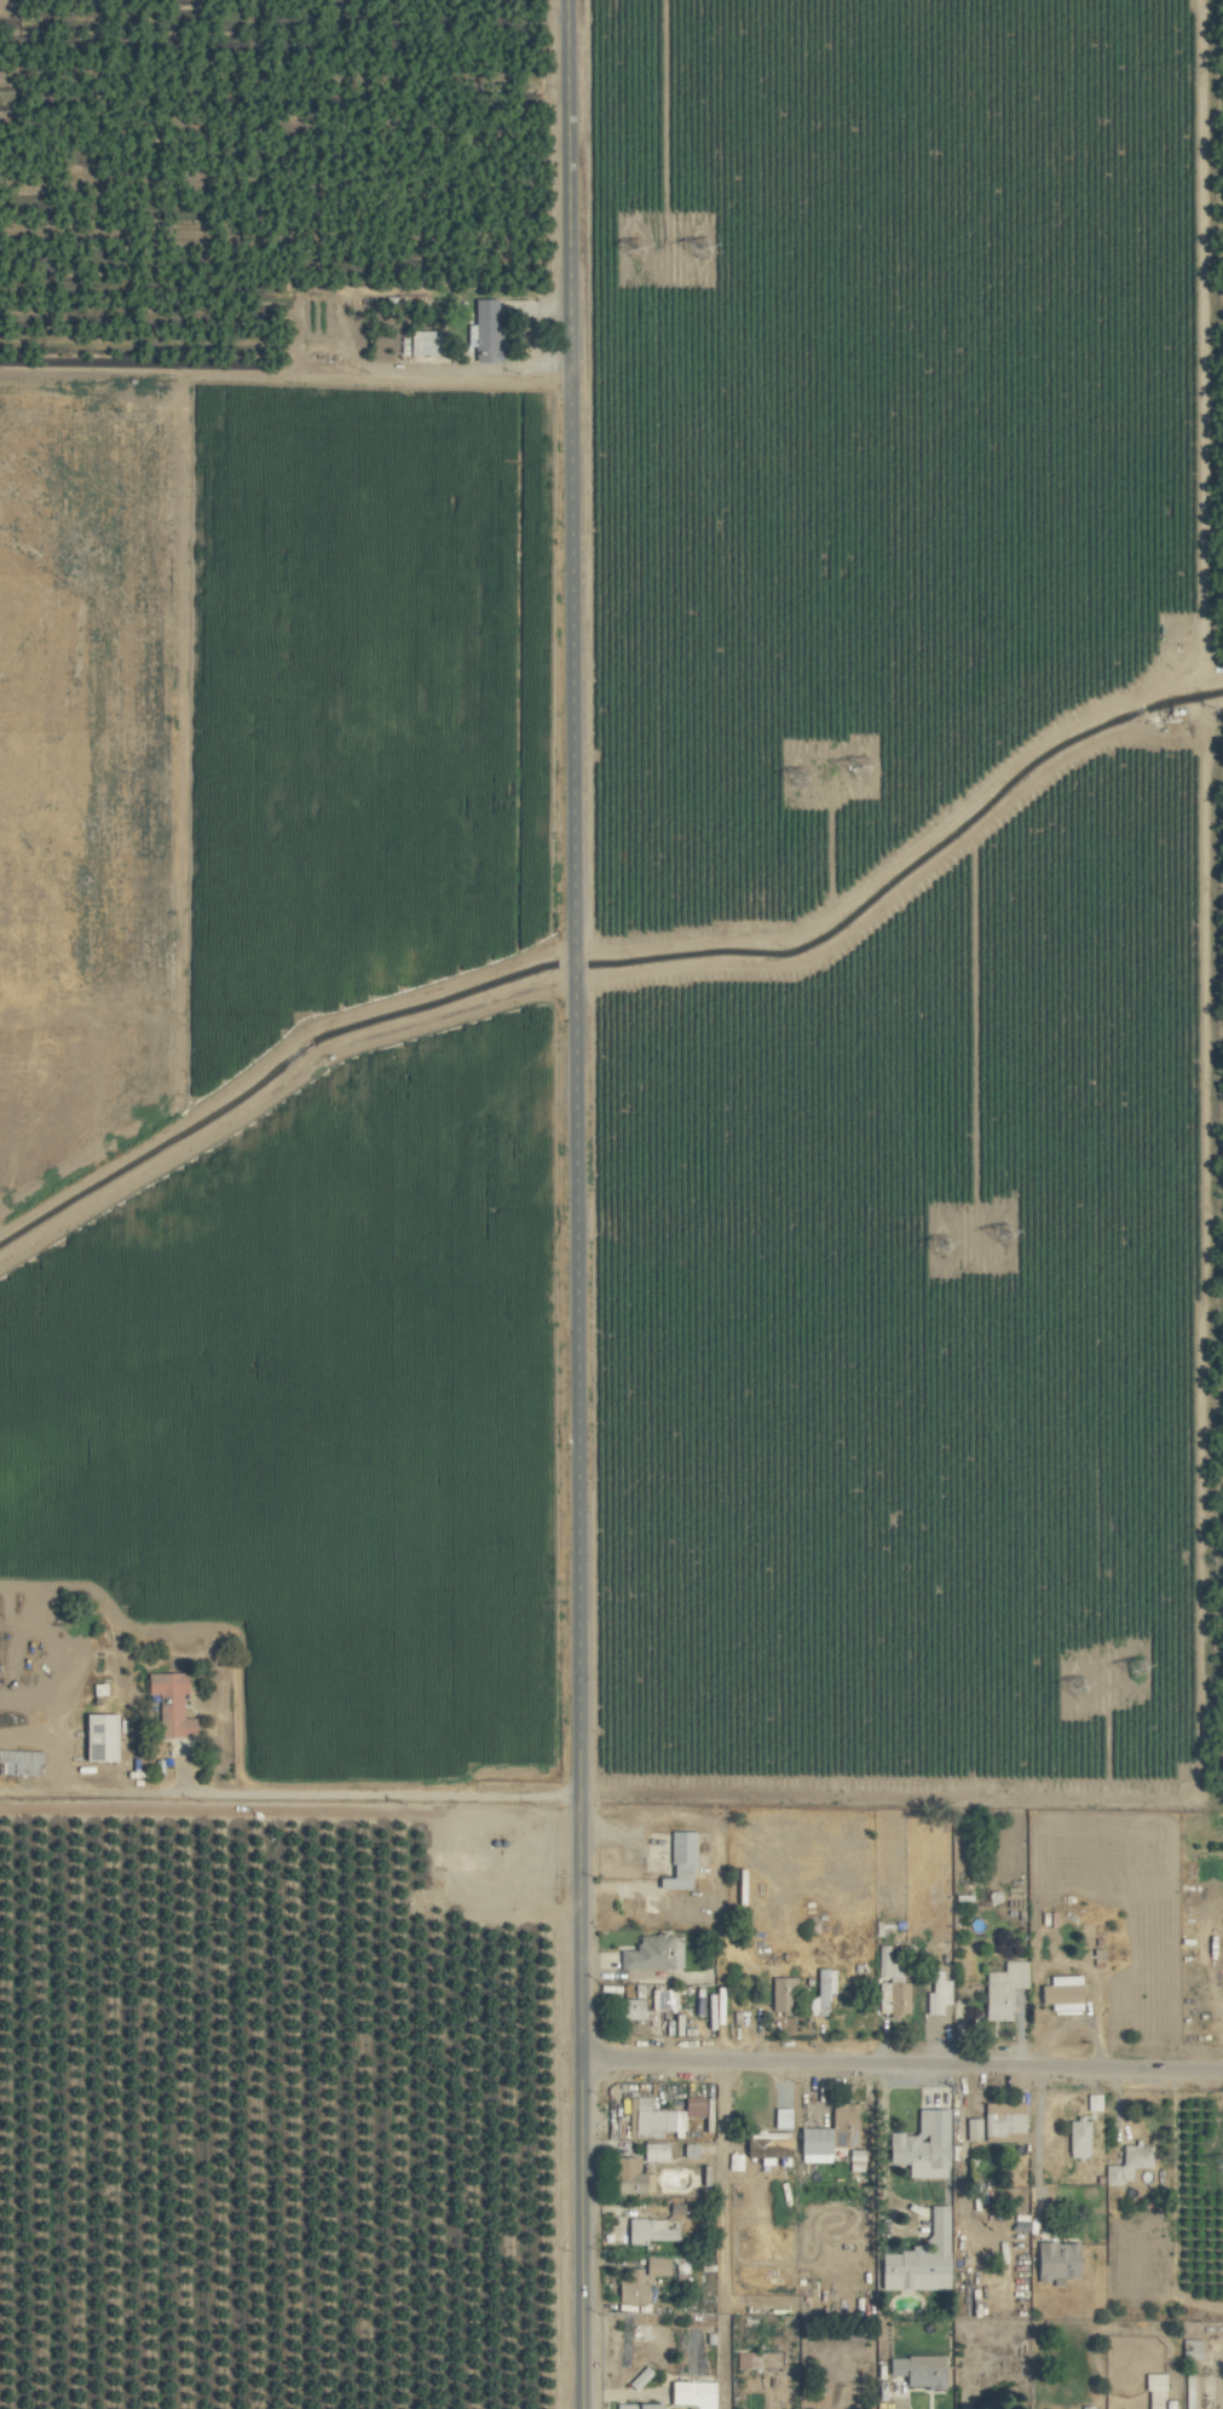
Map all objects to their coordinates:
road: (566, 122)
power tower: (704, 248)
power tower: (640, 252)
road: (341, 324)
building: (490, 330)
building: (423, 344)
power tower: (855, 766)
power tower: (802, 777)
road: (572, 997)
crop: (611, 1204)
power tower: (1005, 1232)
power tower: (952, 1243)
crop: (281, 1395)
power tower: (1141, 1669)
power tower: (1084, 1687)
building: (174, 1702)
building: (104, 1736)
building: (22, 1762)
road: (369, 1794)
building: (676, 1862)
road: (577, 1903)
building: (651, 1954)
building: (890, 1982)
building: (999, 1990)
building: (819, 1993)
building: (935, 1994)
building: (1058, 1994)
building: (779, 1995)
building: (660, 2000)
building: (629, 2010)
road: (900, 2062)
building: (665, 2116)
building: (778, 2117)
building: (1000, 2122)
building: (841, 2125)
building: (970, 2128)
building: (1075, 2138)
road: (1035, 2143)
building: (809, 2145)
building: (918, 2145)
building: (763, 2148)
building: (653, 2151)
building: (1125, 2163)
building: (627, 2177)
road: (883, 2178)
building: (646, 2230)
road: (578, 2234)
road: (722, 2234)
building: (916, 2260)
building: (1054, 2261)
building: (654, 2265)
building: (630, 2287)
building: (1188, 2350)
building: (915, 2370)
building: (1152, 2392)
building: (688, 2394)
road: (884, 2396)
building: (639, 2405)
building: (1084, 2407)
building: (1042, 2408)

